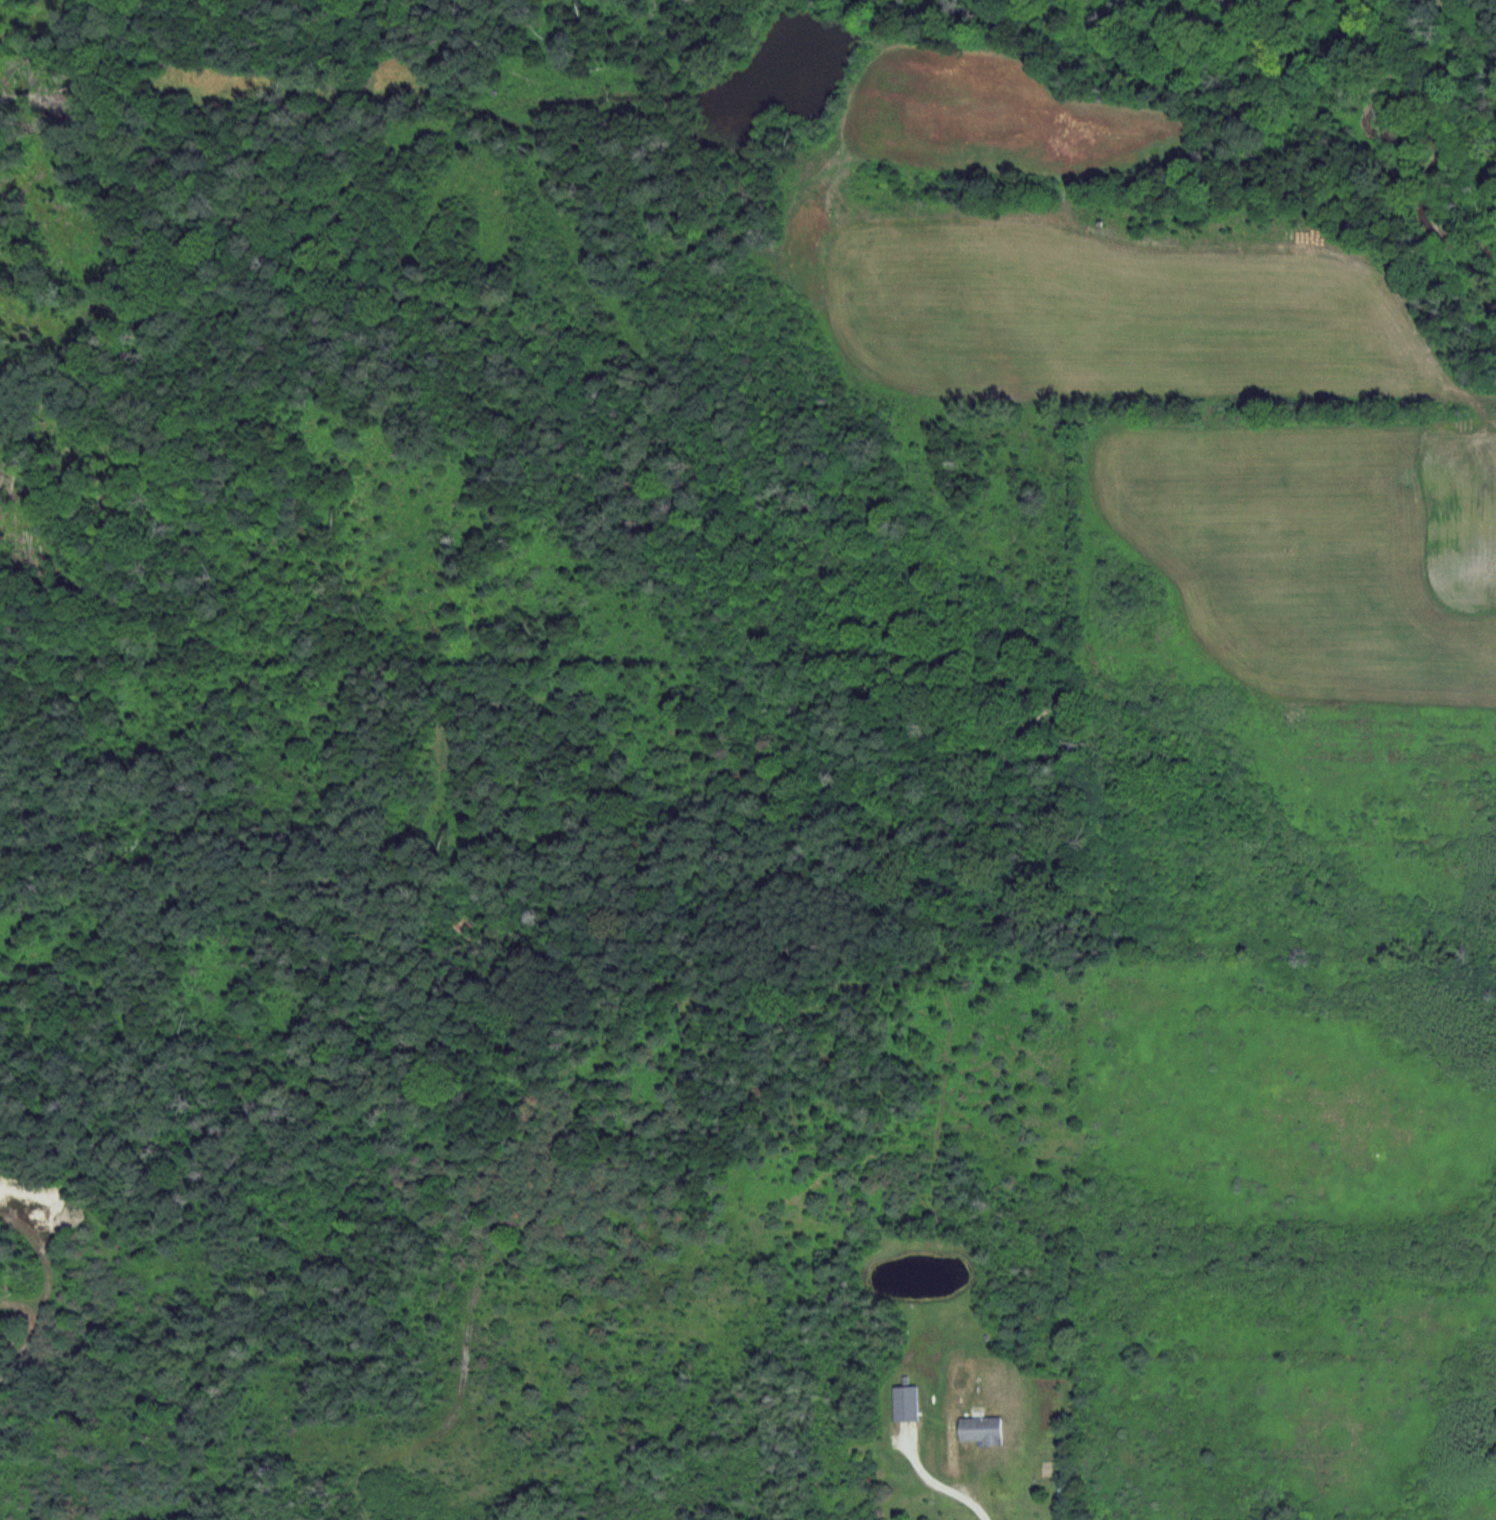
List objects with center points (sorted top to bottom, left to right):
building: (911, 1405)
building: (987, 1432)
road: (946, 1484)

